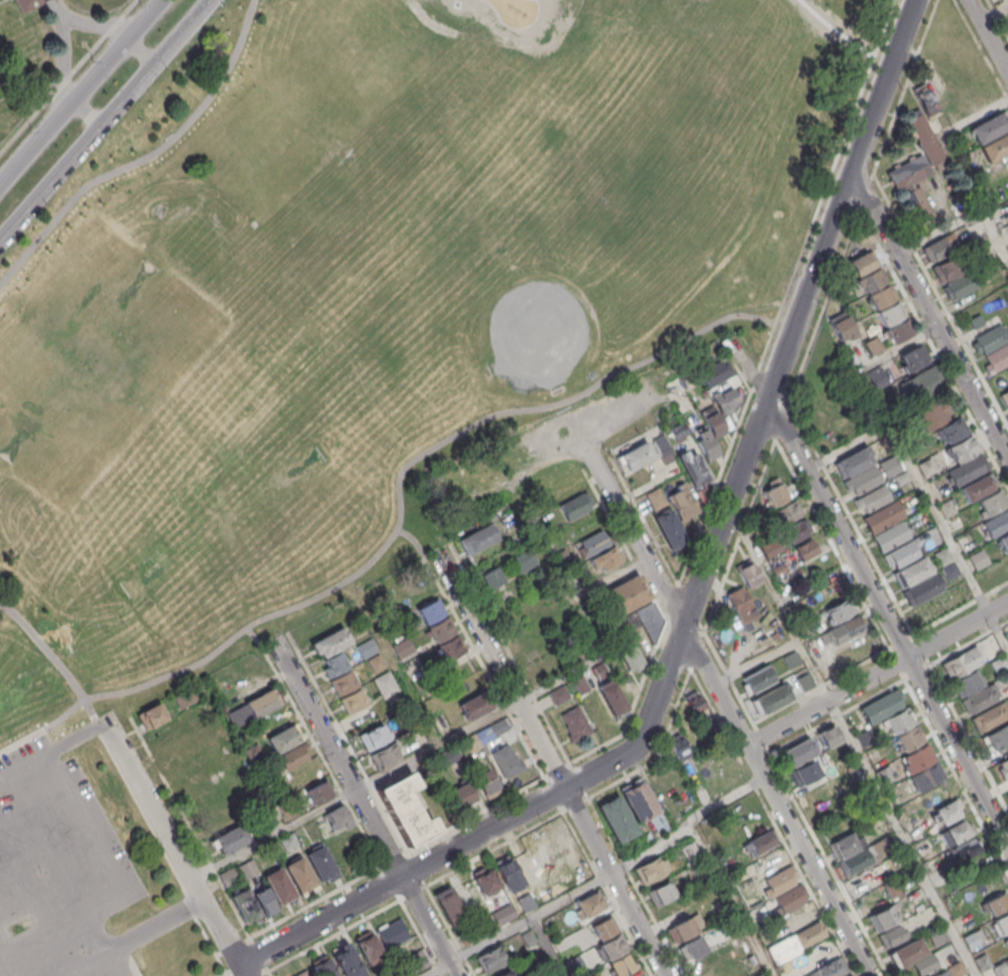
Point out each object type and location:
road: (0, 0)
building: (25, 4)
road: (56, 9)
road: (996, 20)
road: (95, 25)
road: (830, 33)
road: (987, 37)
park: (39, 44)
road: (141, 48)
road: (64, 59)
road: (79, 91)
building: (922, 99)
road: (87, 110)
road: (974, 117)
road: (103, 119)
building: (933, 125)
building: (989, 127)
building: (924, 138)
building: (994, 146)
road: (146, 157)
building: (1007, 178)
building: (911, 187)
road: (974, 199)
park: (328, 210)
road: (938, 231)
building: (939, 247)
park: (188, 254)
building: (858, 264)
building: (948, 267)
building: (868, 280)
building: (961, 284)
building: (1006, 287)
building: (880, 296)
road: (940, 299)
park: (554, 302)
building: (889, 313)
road: (930, 315)
building: (976, 321)
building: (840, 326)
building: (898, 330)
building: (989, 339)
park: (344, 344)
building: (873, 346)
road: (896, 348)
road: (934, 350)
building: (911, 357)
building: (998, 357)
road: (744, 361)
park: (119, 374)
building: (715, 374)
building: (875, 377)
building: (687, 379)
building: (1002, 379)
building: (920, 383)
road: (761, 388)
building: (1004, 397)
road: (666, 398)
building: (724, 400)
building: (933, 412)
building: (712, 421)
building: (678, 430)
building: (953, 430)
building: (704, 442)
road: (846, 447)
building: (662, 448)
building: (962, 448)
building: (635, 456)
building: (852, 461)
building: (926, 466)
building: (692, 468)
building: (967, 469)
building: (867, 477)
building: (901, 478)
park: (22, 483)
building: (978, 486)
building: (774, 494)
building: (654, 498)
building: (872, 498)
road: (753, 501)
building: (992, 502)
building: (683, 503)
building: (573, 507)
building: (946, 508)
building: (758, 510)
road: (932, 511)
building: (786, 512)
building: (882, 516)
building: (761, 523)
building: (996, 523)
road: (399, 525)
building: (669, 528)
building: (795, 531)
building: (890, 536)
road: (634, 538)
building: (477, 539)
building: (593, 542)
building: (1003, 542)
road: (418, 546)
building: (770, 547)
building: (804, 549)
building: (902, 552)
building: (942, 556)
building: (604, 558)
building: (978, 559)
building: (525, 560)
building: (778, 568)
building: (949, 570)
building: (912, 571)
building: (747, 572)
building: (492, 577)
road: (608, 580)
road: (817, 581)
road: (676, 586)
road: (697, 586)
building: (922, 589)
building: (626, 594)
building: (740, 604)
building: (430, 610)
building: (838, 610)
road: (579, 614)
building: (643, 620)
road: (887, 623)
building: (441, 629)
building: (845, 630)
building: (330, 642)
road: (261, 644)
building: (366, 647)
building: (403, 647)
building: (451, 647)
building: (629, 654)
building: (791, 659)
road: (55, 661)
road: (755, 661)
building: (335, 662)
building: (374, 662)
building: (960, 662)
building: (999, 664)
road: (499, 670)
building: (599, 670)
road: (877, 673)
building: (757, 677)
road: (403, 680)
building: (804, 681)
building: (344, 682)
building: (967, 682)
building: (385, 684)
building: (580, 684)
building: (558, 694)
building: (186, 696)
building: (612, 698)
building: (979, 698)
building: (770, 699)
building: (353, 700)
building: (696, 704)
building: (474, 705)
building: (881, 706)
building: (251, 708)
building: (151, 716)
building: (989, 716)
building: (899, 719)
building: (575, 722)
building: (497, 727)
building: (709, 729)
building: (828, 735)
building: (373, 736)
building: (864, 737)
building: (997, 737)
building: (283, 738)
building: (909, 738)
road: (850, 739)
road: (60, 745)
road: (436, 746)
building: (679, 746)
building: (796, 753)
building: (385, 756)
building: (289, 757)
road: (337, 757)
building: (916, 758)
building: (506, 761)
building: (1003, 769)
building: (803, 772)
road: (4, 776)
building: (884, 777)
building: (925, 777)
building: (486, 782)
building: (317, 792)
building: (462, 794)
building: (639, 801)
road: (776, 801)
building: (405, 809)
building: (946, 813)
building: (337, 818)
building: (616, 818)
road: (85, 826)
building: (958, 832)
road: (273, 835)
building: (299, 835)
building: (230, 838)
building: (721, 843)
building: (759, 843)
building: (844, 846)
road: (173, 847)
building: (878, 848)
building: (965, 849)
building: (688, 850)
building: (855, 860)
building: (319, 862)
building: (248, 868)
building: (652, 868)
parking lot: (57, 869)
building: (505, 869)
building: (298, 874)
road: (64, 875)
building: (227, 876)
road: (598, 879)
building: (780, 879)
building: (485, 880)
road: (614, 882)
building: (862, 882)
building: (278, 885)
building: (893, 889)
building: (661, 893)
building: (790, 897)
building: (265, 900)
building: (524, 901)
road: (733, 901)
building: (997, 903)
building: (244, 904)
building: (587, 905)
building: (449, 906)
road: (106, 908)
road: (35, 910)
building: (882, 918)
building: (1001, 923)
road: (428, 926)
building: (604, 927)
building: (681, 929)
road: (448, 930)
building: (392, 933)
building: (465, 935)
building: (807, 935)
building: (891, 935)
road: (133, 937)
building: (528, 937)
building: (973, 938)
building: (1006, 940)
building: (366, 944)
road: (547, 946)
building: (613, 947)
building: (691, 947)
road: (11, 953)
building: (906, 953)
building: (417, 959)
building: (490, 959)
building: (536, 959)
road: (128, 960)
building: (347, 960)
building: (982, 961)
building: (572, 965)
building: (621, 965)
building: (322, 966)
building: (1002, 968)
building: (829, 969)
building: (955, 969)
road: (241, 970)
building: (508, 973)
building: (548, 973)
building: (301, 974)
building: (384, 974)
road: (224, 975)
building: (585, 975)
building: (760, 975)
building: (936, 975)

